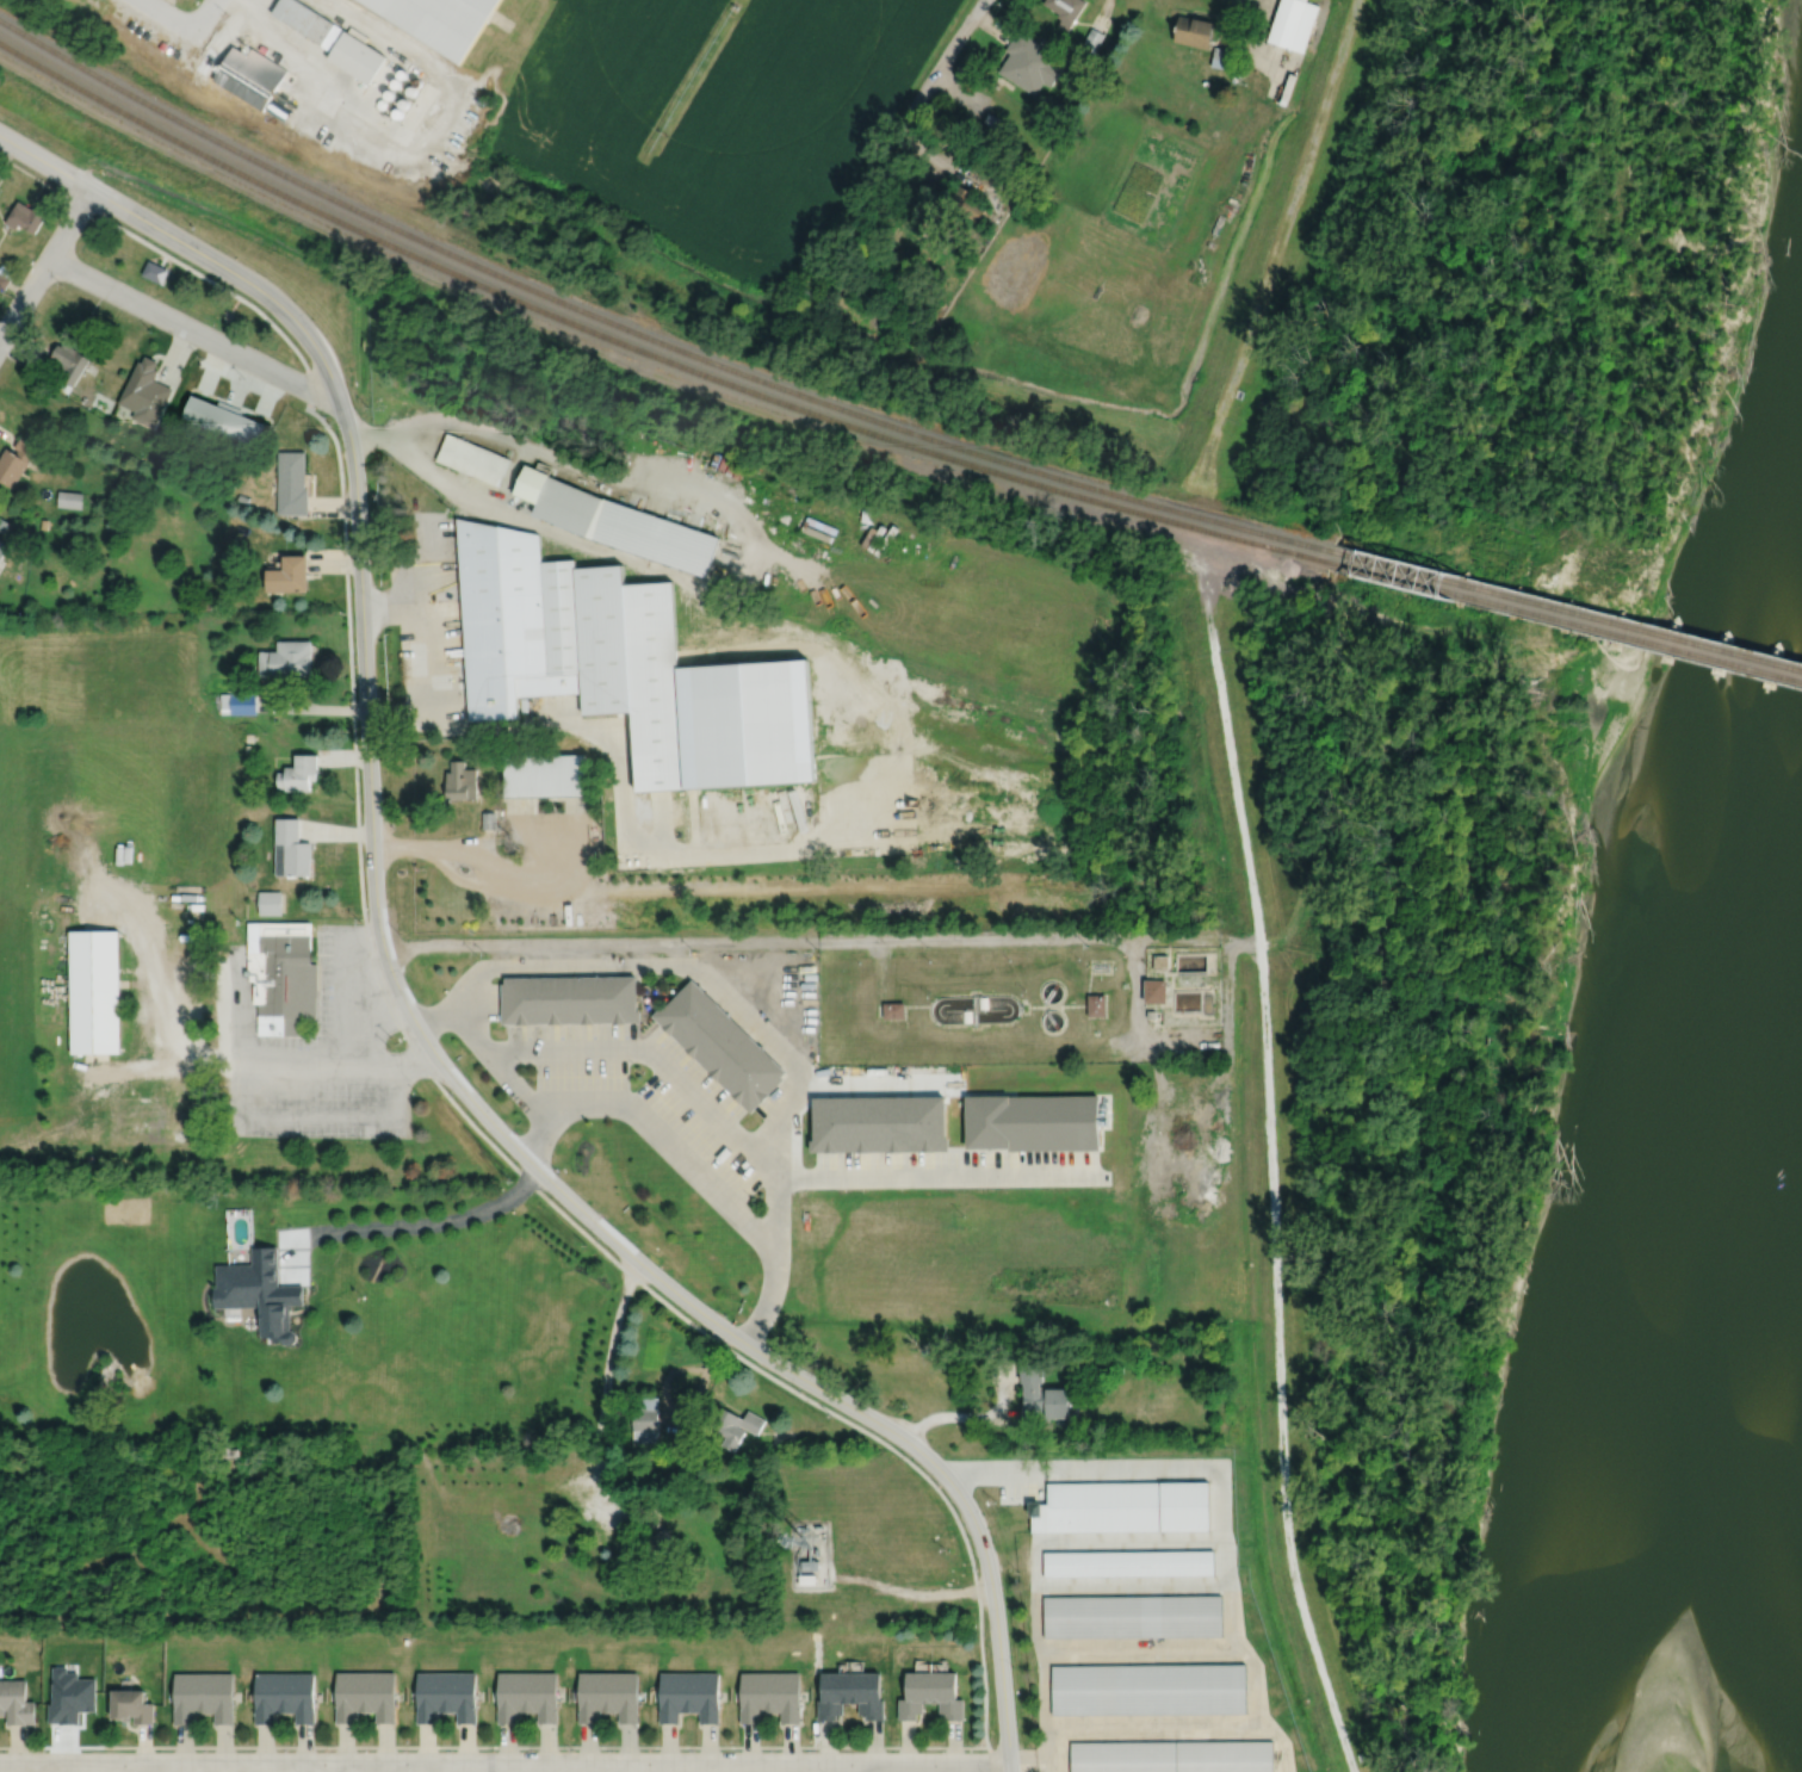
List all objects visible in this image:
building: (1066, 11)
road: (163, 13)
road: (204, 14)
building: (440, 20)
building: (309, 21)
building: (1293, 23)
building: (1194, 31)
building: (1092, 41)
building: (357, 55)
building: (1222, 57)
road: (945, 58)
building: (1029, 62)
building: (401, 73)
building: (250, 75)
building: (395, 82)
building: (417, 82)
building: (410, 91)
building: (388, 94)
building: (380, 103)
building: (403, 103)
railway: (242, 105)
building: (277, 109)
building: (1059, 109)
building: (397, 112)
crop: (716, 112)
building: (991, 119)
road: (410, 154)
building: (434, 171)
building: (1016, 178)
building: (967, 204)
building: (25, 217)
road: (184, 243)
road: (45, 264)
building: (6, 271)
building: (154, 272)
building: (4, 279)
road: (10, 301)
road: (190, 329)
railway: (644, 335)
railway: (644, 351)
building: (394, 357)
building: (68, 364)
building: (144, 394)
building: (208, 414)
building: (242, 428)
building: (14, 460)
building: (472, 460)
road: (508, 476)
building: (292, 483)
building: (228, 485)
building: (68, 496)
building: (241, 496)
building: (615, 520)
building: (2, 521)
building: (43, 521)
building: (2, 545)
road: (408, 550)
building: (289, 571)
road: (428, 571)
road: (749, 578)
building: (202, 602)
railway: (1566, 608)
railway: (1565, 618)
building: (286, 658)
road: (417, 658)
building: (625, 664)
building: (239, 686)
building: (239, 701)
building: (249, 736)
building: (299, 772)
building: (543, 774)
building: (462, 779)
building: (488, 818)
road: (628, 830)
building: (291, 848)
road: (460, 879)
road: (632, 888)
building: (270, 902)
road: (799, 938)
building: (281, 975)
building: (1188, 983)
building: (93, 991)
building: (1156, 991)
road: (384, 995)
wastewater plant: (1020, 996)
parking lot: (493, 999)
building: (569, 999)
road: (239, 1003)
building: (1096, 1005)
building: (894, 1010)
building: (1151, 1014)
road: (340, 1024)
road: (1134, 1026)
building: (720, 1045)
parking lot: (326, 1060)
road: (799, 1080)
road: (515, 1085)
parking lot: (658, 1101)
road: (267, 1113)
building: (1033, 1122)
building: (880, 1124)
road: (655, 1130)
road: (532, 1161)
parking lot: (945, 1169)
road: (941, 1176)
road: (415, 1223)
building: (239, 1234)
river: (1701, 1241)
road: (775, 1247)
building: (260, 1290)
fountain: (100, 1308)
building: (1077, 1356)
building: (1044, 1392)
road: (971, 1415)
road: (682, 1417)
road: (602, 1418)
building: (645, 1418)
building: (731, 1423)
building: (92, 1458)
road: (1117, 1469)
parking lot: (1020, 1489)
building: (1123, 1505)
building: (698, 1539)
building: (662, 1541)
building: (1129, 1562)
building: (810, 1563)
road: (1035, 1563)
building: (807, 1579)
road: (910, 1592)
building: (1133, 1615)
road: (1138, 1650)
road: (1247, 1658)
building: (1150, 1689)
building: (868, 1693)
building: (351, 1694)
building: (704, 1694)
building: (834, 1694)
building: (915, 1694)
building: (947, 1694)
building: (188, 1696)
building: (301, 1696)
building: (383, 1696)
building: (432, 1696)
building: (464, 1696)
building: (513, 1696)
building: (541, 1696)
building: (592, 1696)
building: (623, 1696)
building: (673, 1696)
building: (755, 1696)
building: (786, 1696)
building: (221, 1697)
building: (270, 1697)
building: (16, 1702)
building: (134, 1706)
road: (1153, 1725)
road: (21, 1746)
road: (545, 1746)
building: (1172, 1756)
road: (162, 1762)
road: (667, 1762)
road: (1030, 1762)
road: (324, 1767)
road: (850, 1767)

